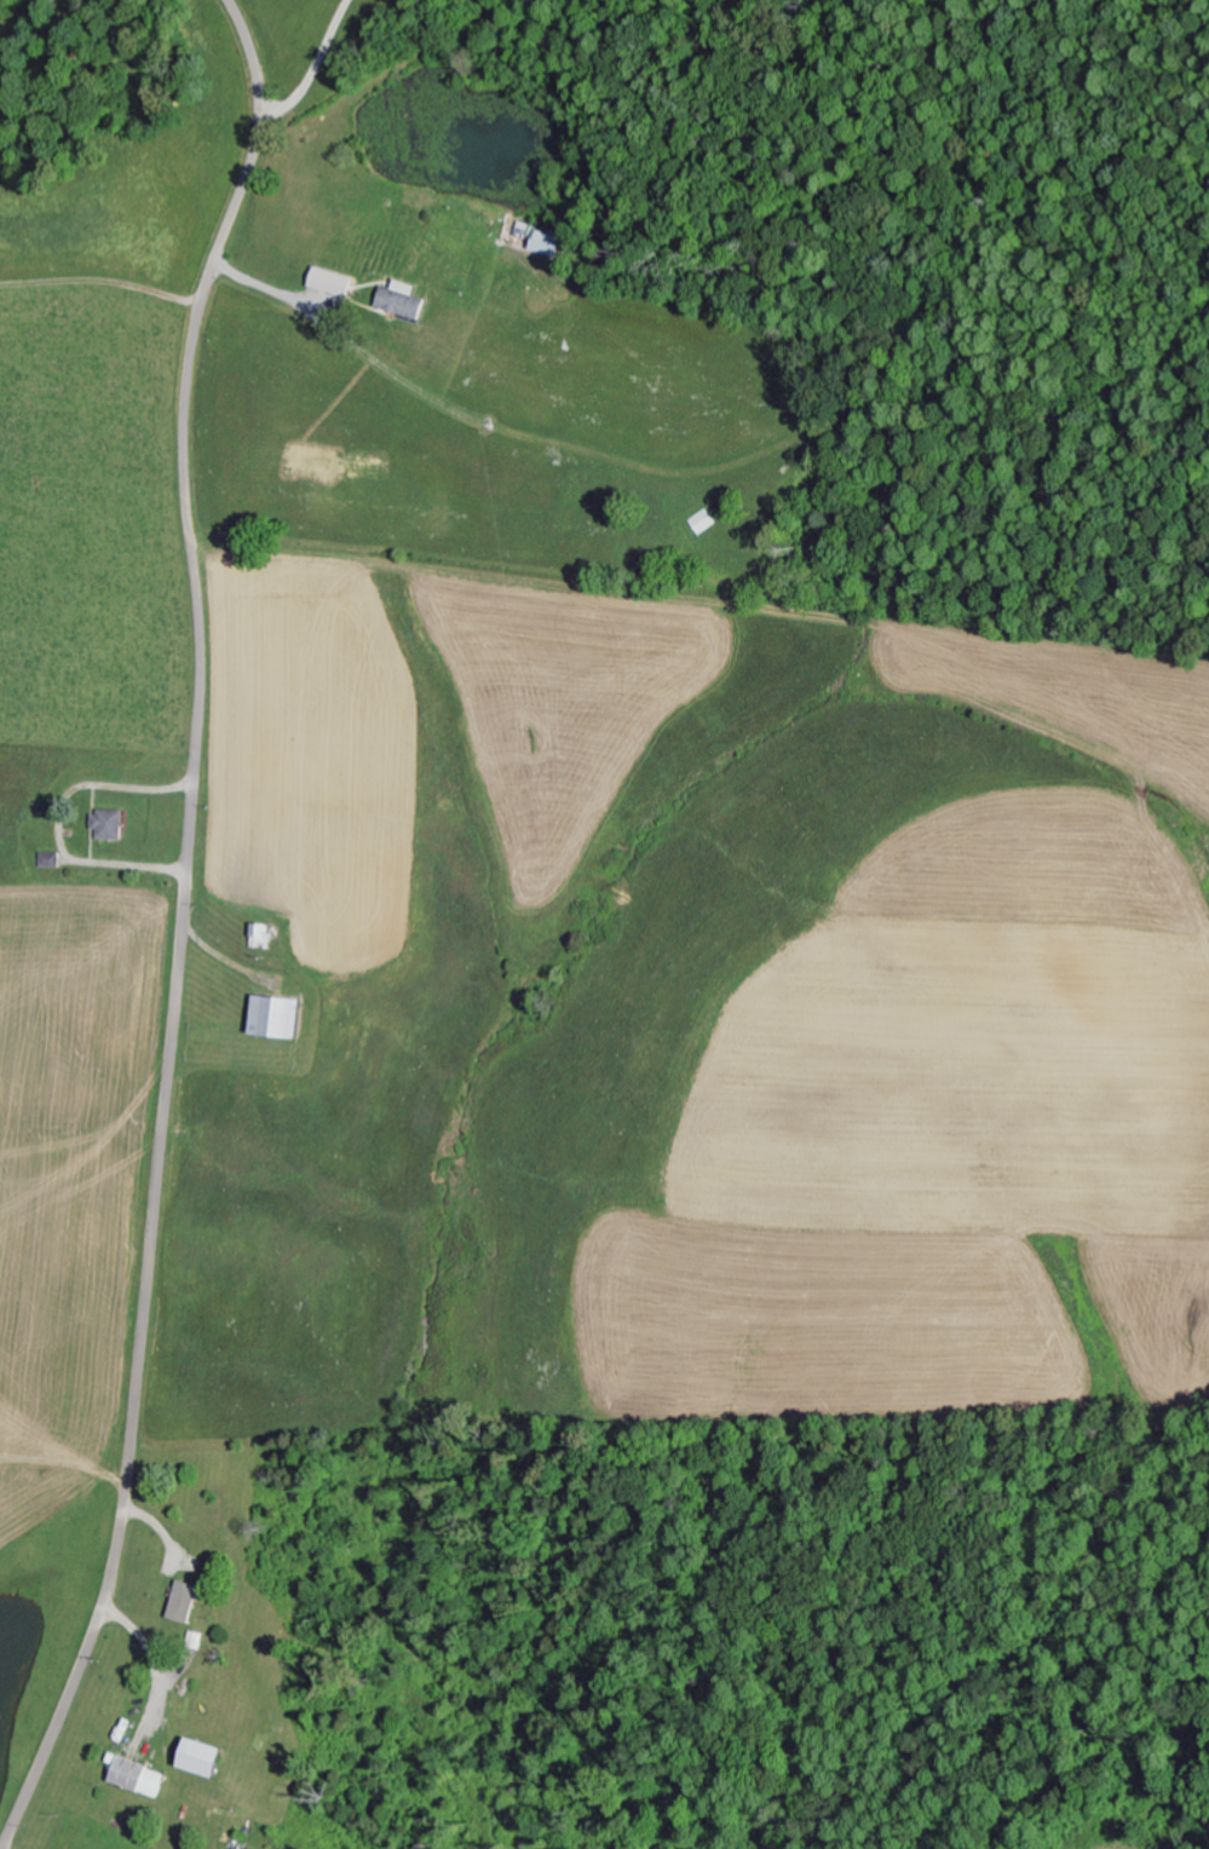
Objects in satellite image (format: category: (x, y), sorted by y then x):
building: (547, 242)
building: (335, 286)
building: (404, 298)
road: (324, 340)
building: (704, 520)
building: (110, 823)
building: (52, 858)
road: (180, 928)
building: (265, 934)
building: (282, 1016)
building: (189, 1600)
building: (208, 1756)
building: (140, 1775)

